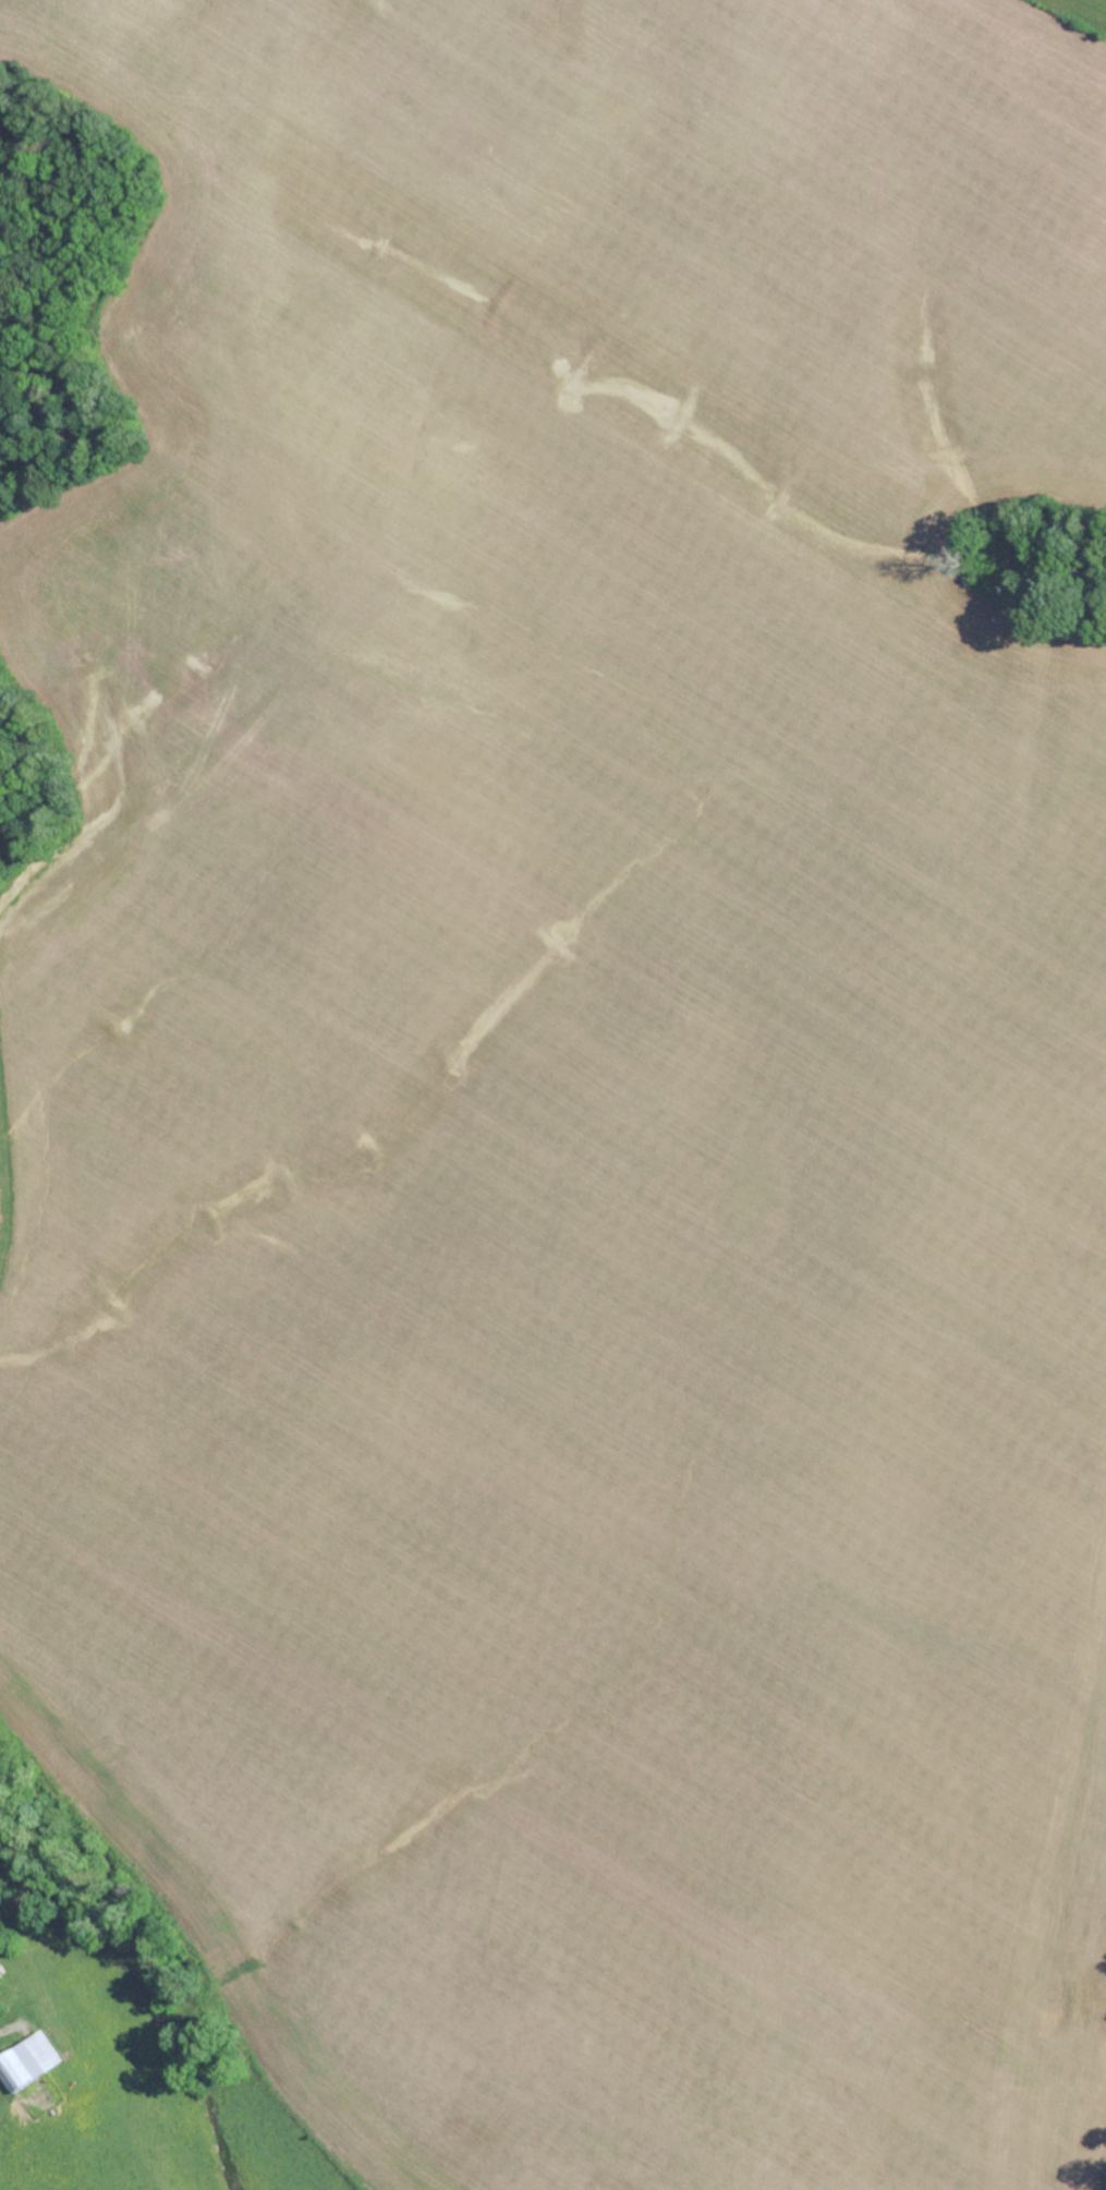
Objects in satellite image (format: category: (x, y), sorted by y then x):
building: (0, 1976)
building: (28, 2061)

